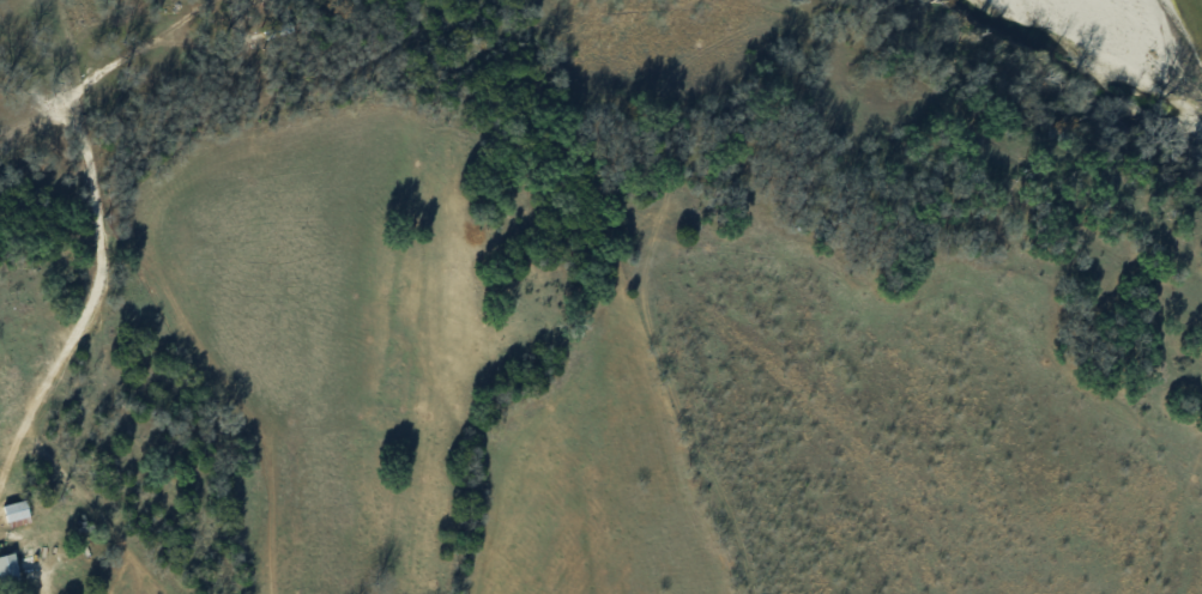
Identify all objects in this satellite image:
river: (1190, 11)
building: (13, 513)
building: (6, 566)

